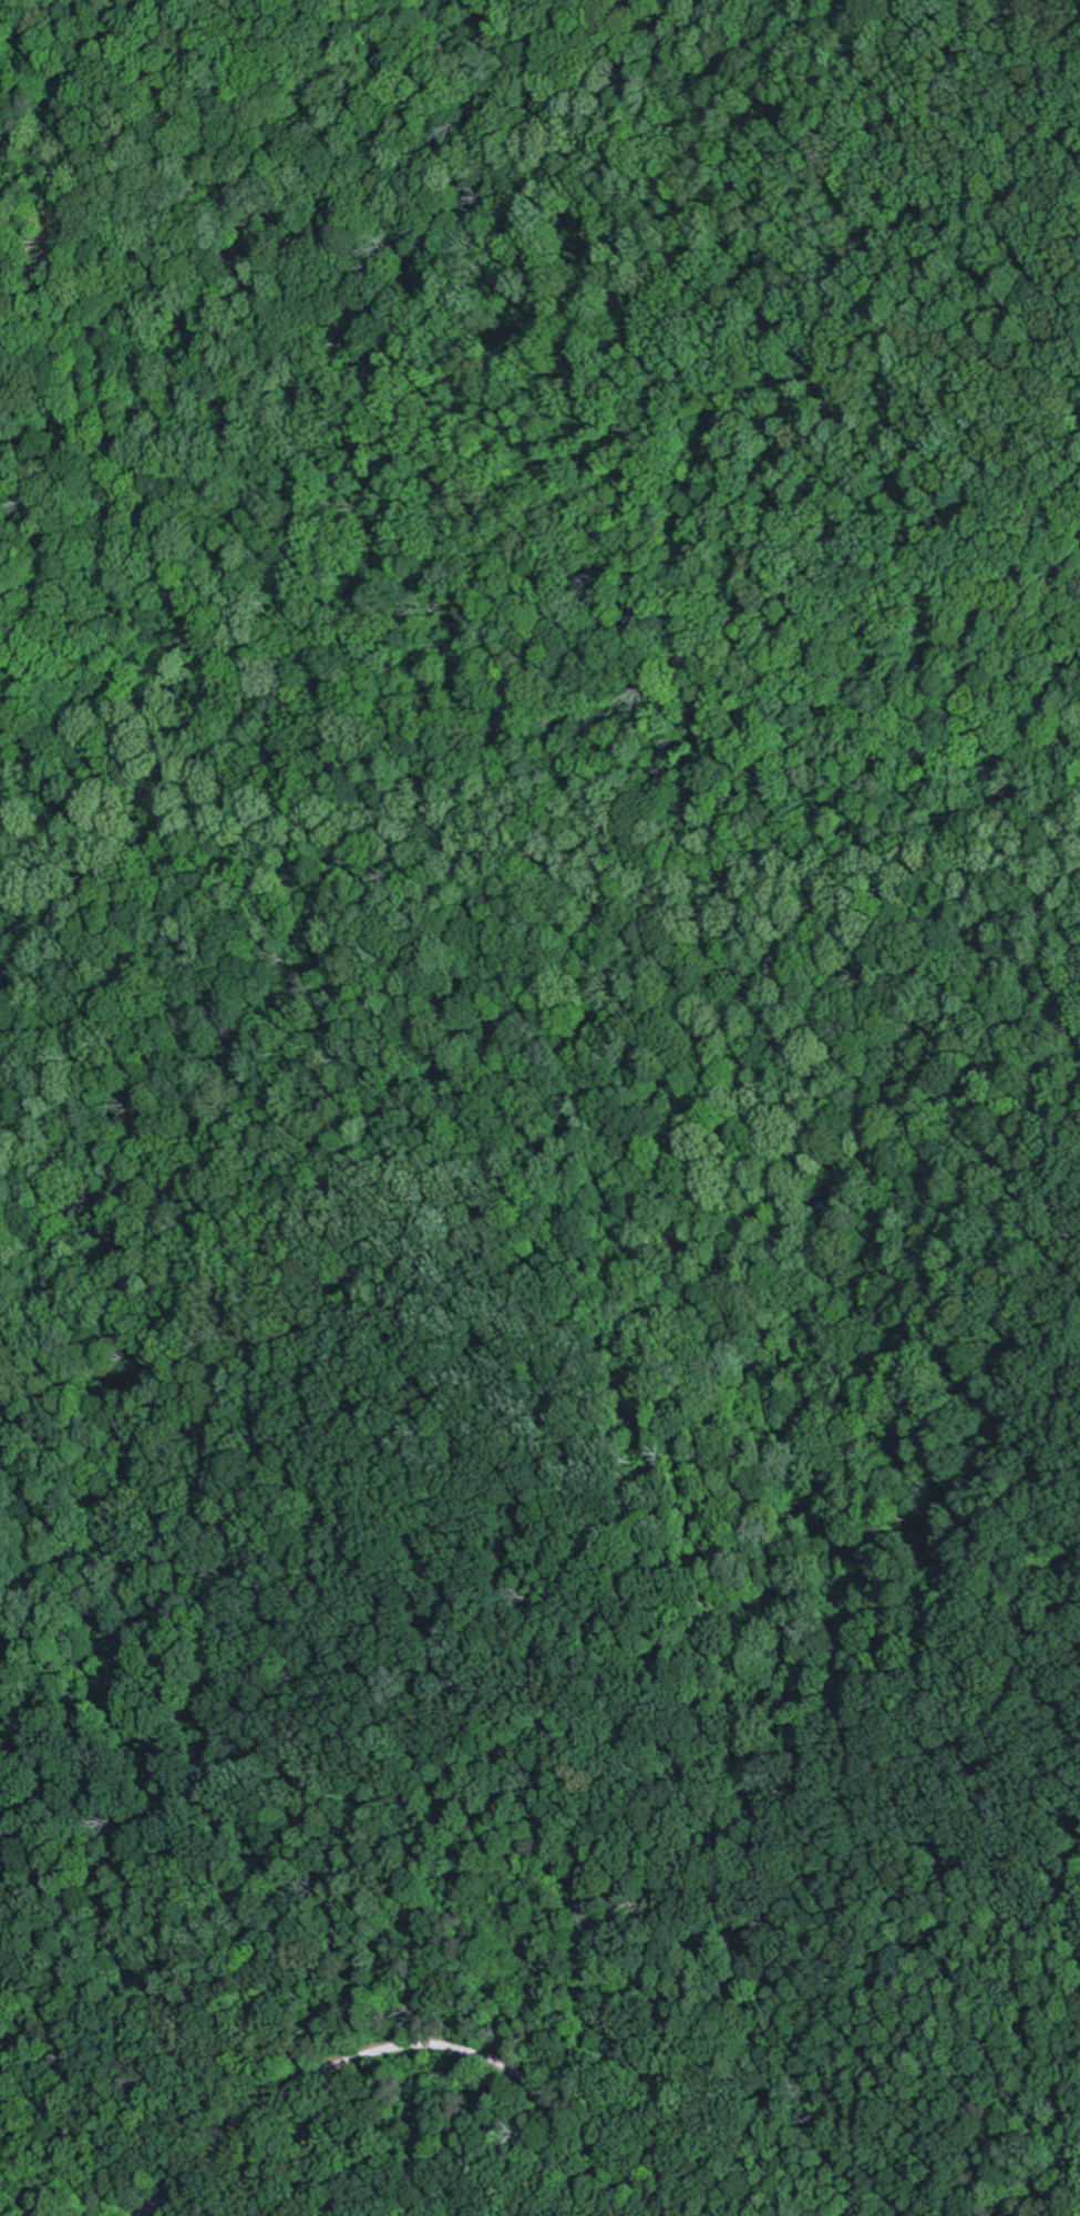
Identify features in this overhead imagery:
road: (413, 2045)

